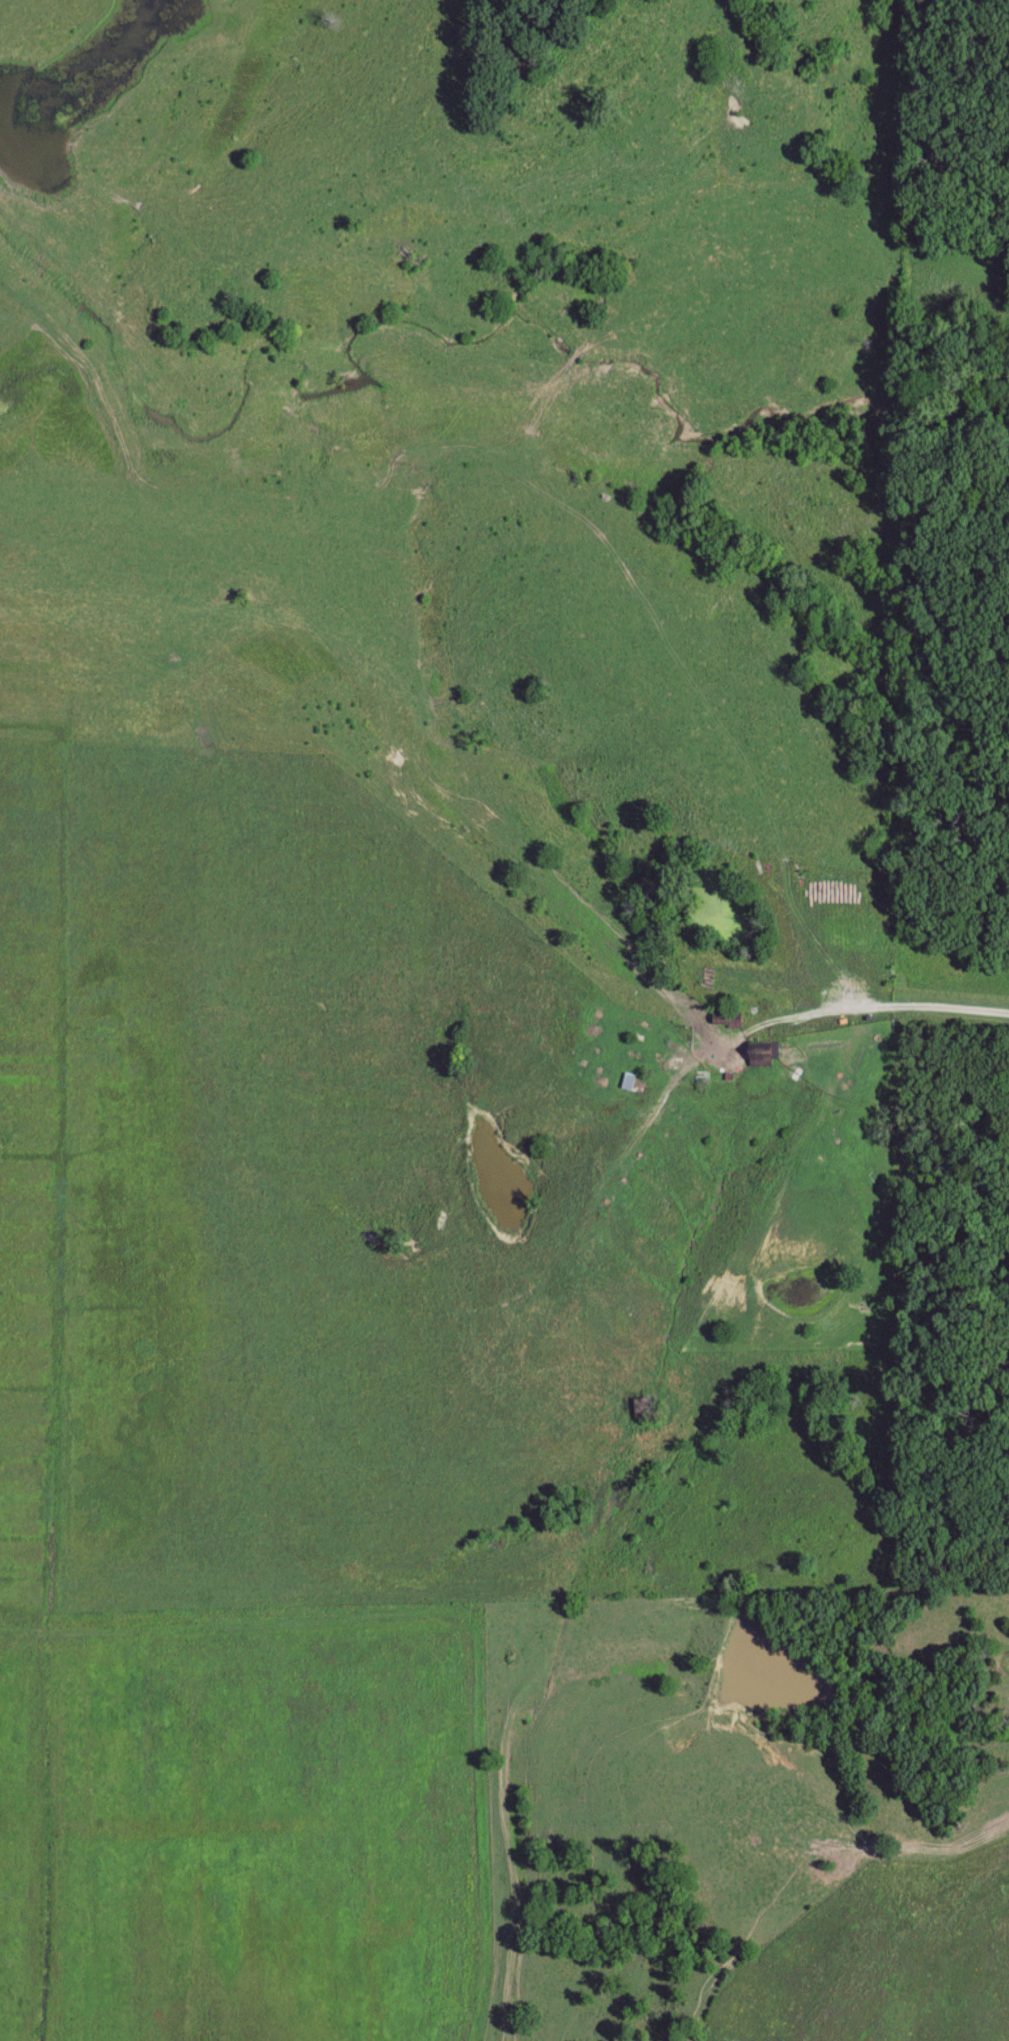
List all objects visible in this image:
road: (929, 1004)
building: (764, 1055)
building: (635, 1084)

